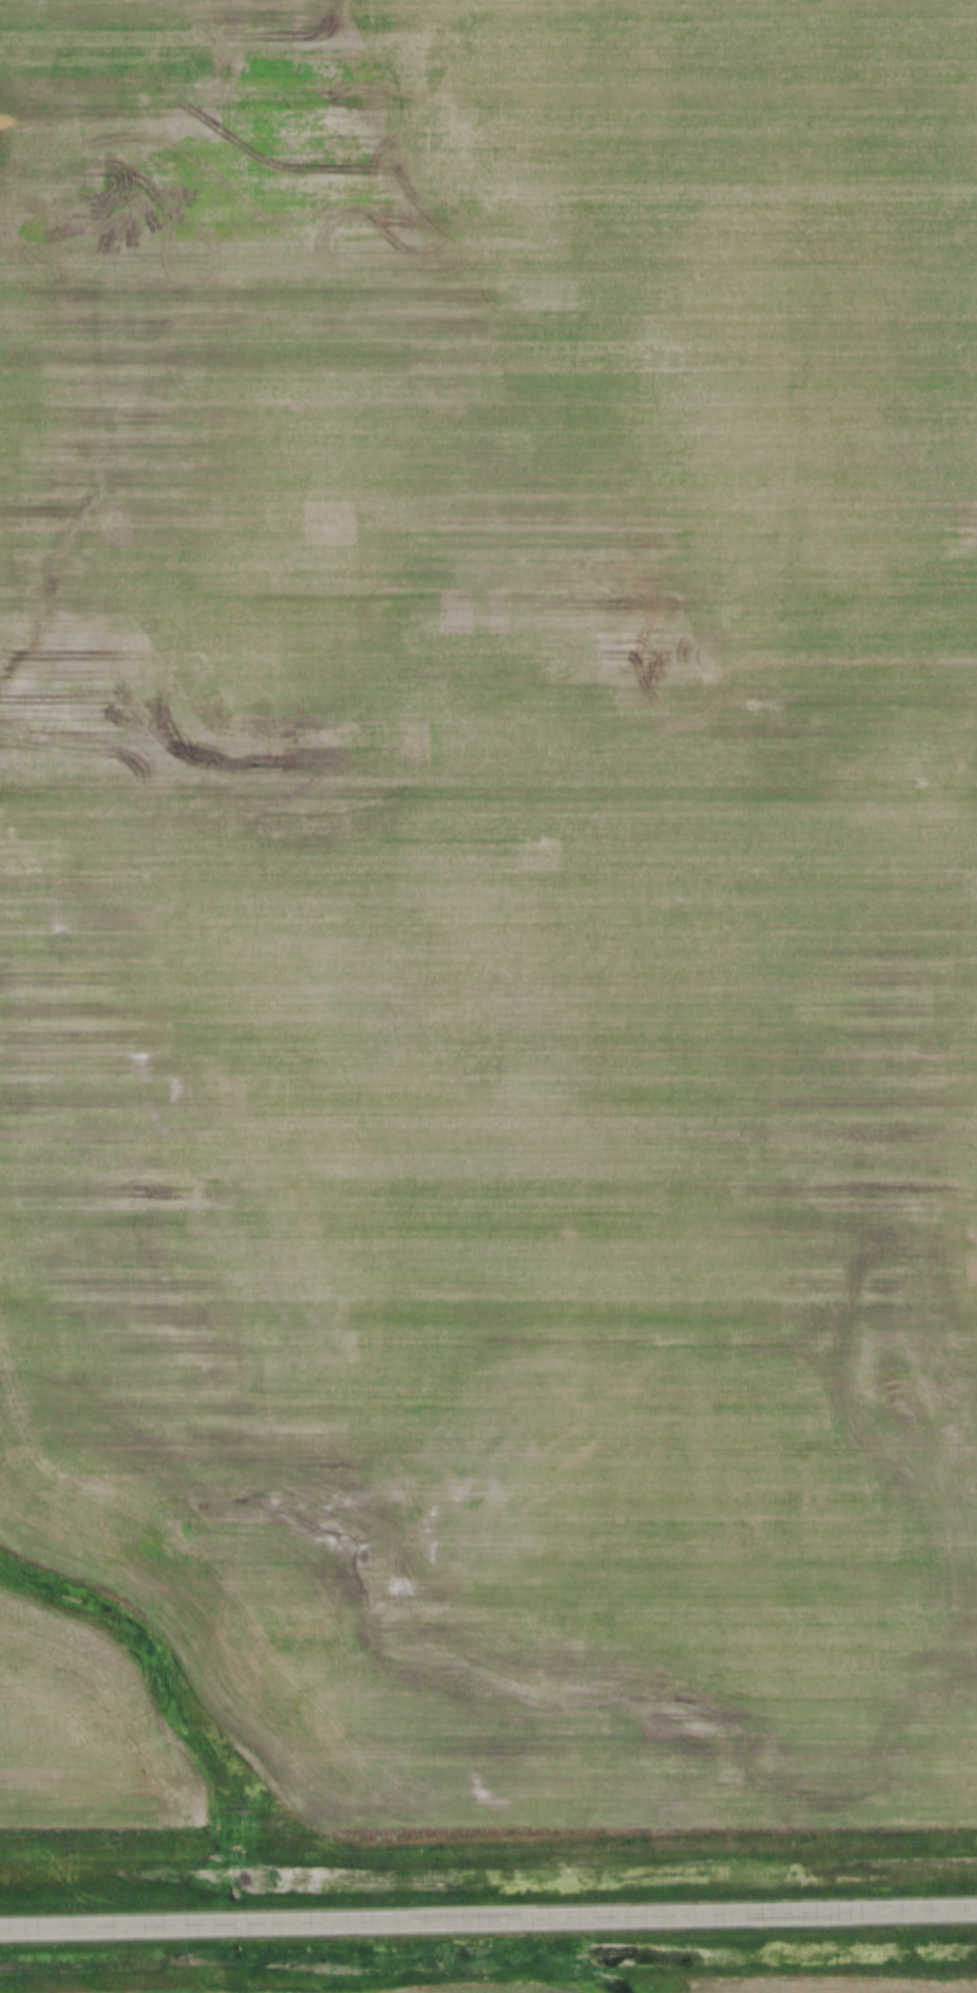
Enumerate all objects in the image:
road: (488, 1914)

